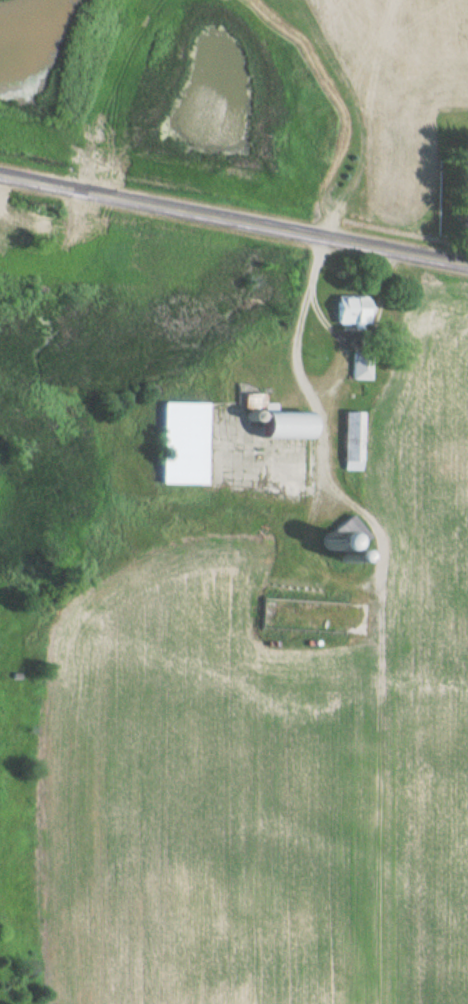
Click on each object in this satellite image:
building: (463, 180)
road: (234, 217)
building: (349, 310)
building: (360, 366)
road: (313, 397)
building: (277, 425)
building: (350, 441)
building: (177, 443)

